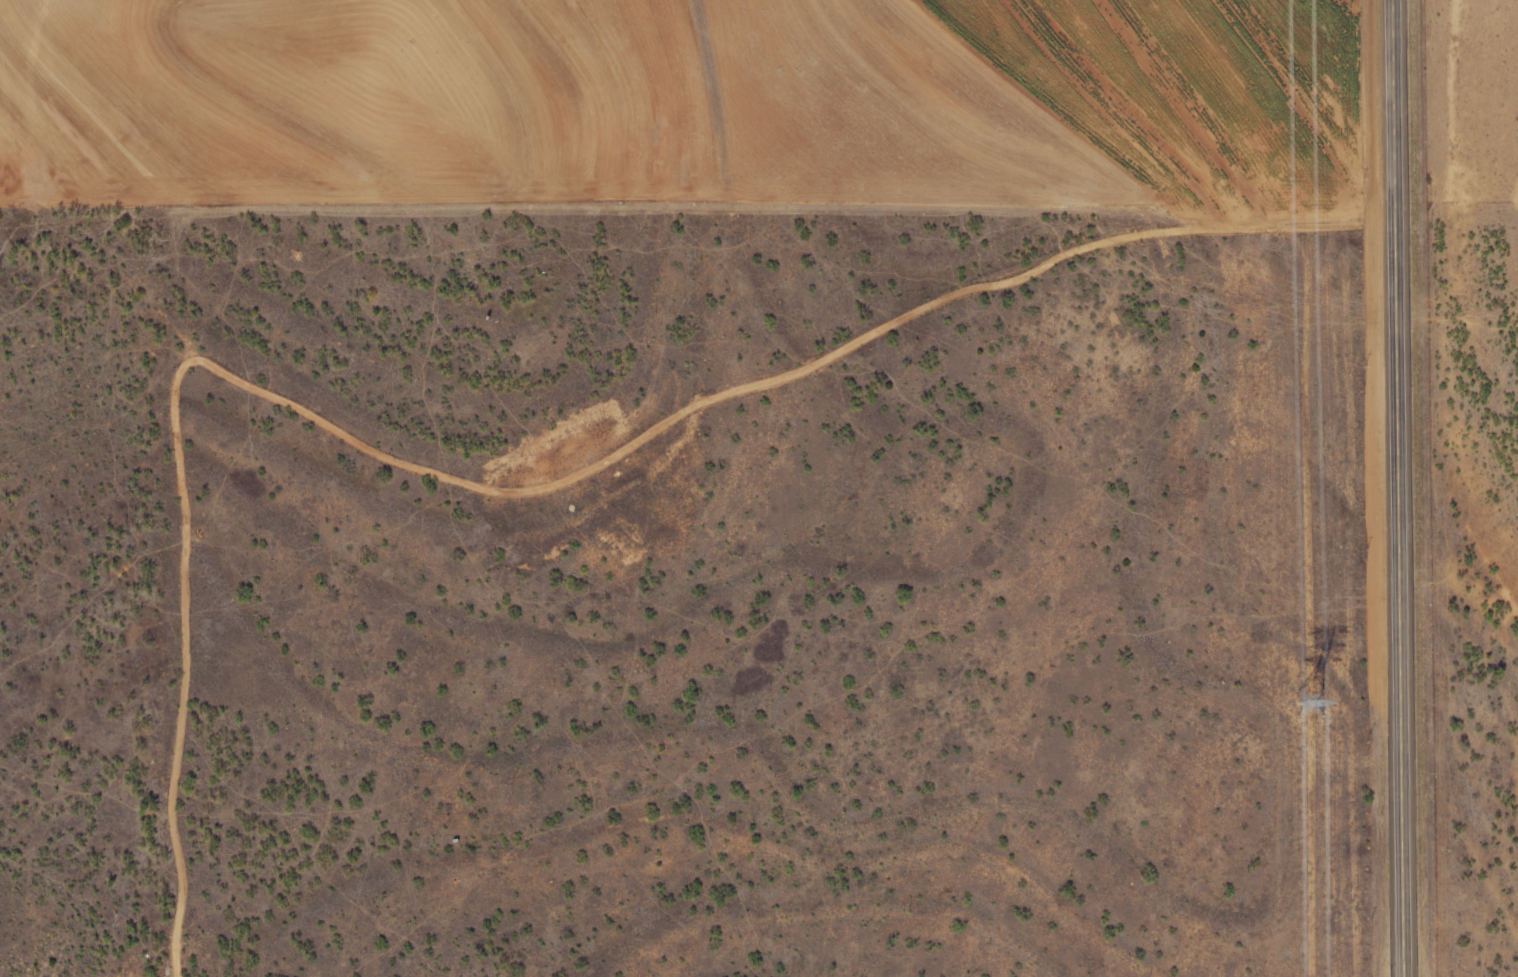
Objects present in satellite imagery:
road: (1401, 488)
power tower: (1308, 703)

